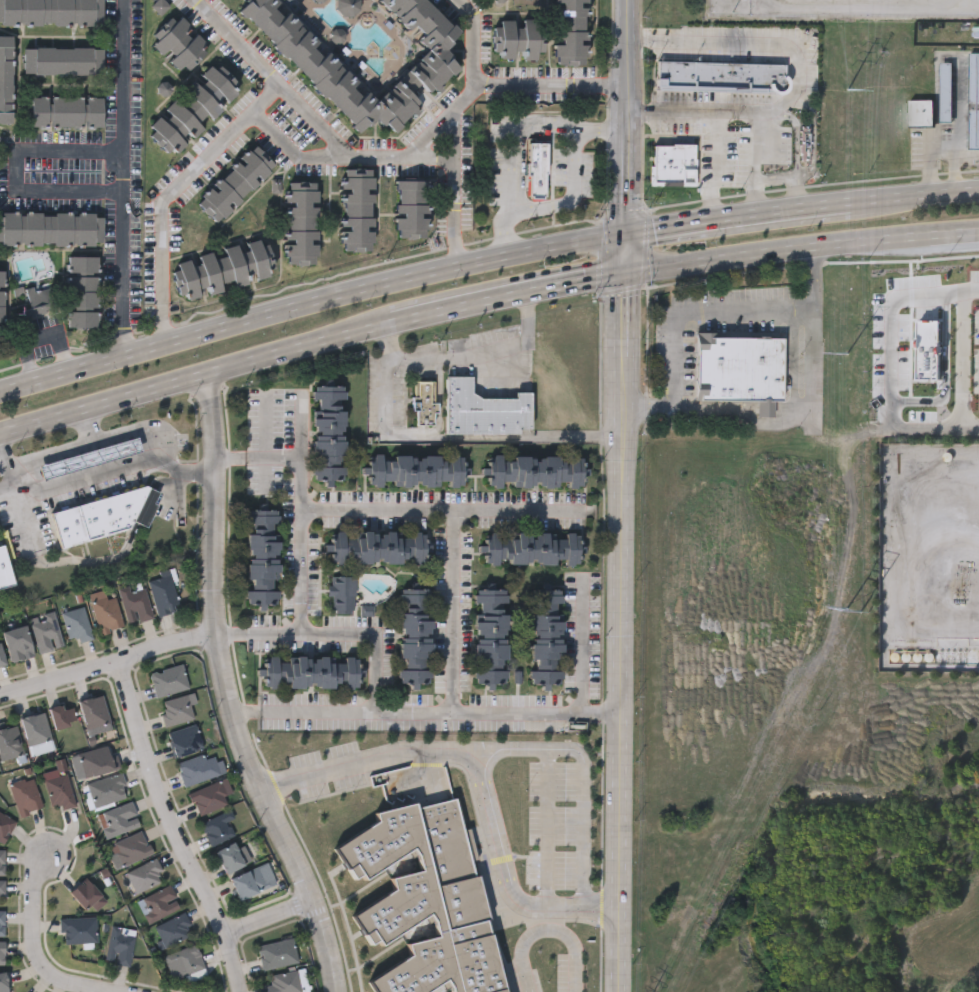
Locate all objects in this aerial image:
power substation: (847, 9)
building: (50, 12)
building: (569, 31)
building: (517, 38)
building: (179, 43)
building: (62, 60)
road: (801, 72)
building: (326, 75)
building: (720, 76)
building: (5, 78)
road: (550, 90)
power tower: (846, 91)
building: (946, 91)
building: (975, 99)
building: (190, 109)
building: (66, 111)
building: (922, 112)
road: (625, 116)
road: (315, 125)
road: (458, 126)
road: (812, 130)
road: (514, 134)
road: (796, 140)
building: (804, 142)
road: (292, 149)
road: (756, 163)
building: (672, 165)
road: (715, 166)
road: (17, 168)
building: (540, 176)
road: (120, 177)
building: (234, 182)
road: (173, 194)
road: (572, 197)
road: (797, 198)
road: (915, 199)
building: (356, 208)
building: (410, 208)
road: (737, 219)
building: (300, 221)
building: (50, 229)
traffic signals: (623, 234)
road: (622, 251)
road: (800, 252)
building: (221, 268)
traffic signals: (622, 268)
building: (82, 291)
road: (503, 295)
road: (888, 298)
building: (34, 300)
road: (308, 301)
building: (1, 307)
road: (695, 311)
road: (455, 331)
road: (483, 352)
power tower: (844, 354)
road: (969, 361)
building: (739, 369)
road: (192, 375)
building: (423, 402)
building: (483, 409)
road: (794, 419)
road: (131, 431)
building: (327, 434)
road: (450, 438)
road: (65, 449)
road: (283, 457)
gas station: (92, 458)
building: (91, 460)
road: (6, 462)
building: (414, 470)
building: (535, 471)
road: (102, 472)
road: (449, 506)
building: (104, 517)
building: (377, 548)
building: (532, 548)
building: (261, 557)
road: (285, 558)
road: (58, 561)
road: (301, 570)
building: (5, 571)
building: (162, 594)
building: (340, 594)
road: (433, 602)
building: (134, 603)
road: (456, 610)
power tower: (853, 610)
building: (105, 611)
building: (76, 625)
road: (621, 630)
road: (334, 631)
building: (45, 632)
building: (414, 636)
building: (488, 637)
building: (544, 638)
building: (18, 644)
building: (1, 657)
road: (106, 659)
building: (310, 672)
road: (575, 679)
building: (168, 681)
road: (355, 682)
road: (226, 691)
building: (177, 710)
building: (93, 712)
road: (426, 715)
building: (62, 716)
building: (34, 729)
building: (184, 741)
building: (9, 743)
building: (97, 762)
road: (483, 766)
building: (199, 768)
building: (57, 789)
building: (107, 790)
road: (549, 794)
building: (25, 796)
building: (209, 796)
road: (581, 813)
building: (118, 820)
road: (175, 824)
building: (5, 826)
building: (217, 828)
building: (131, 849)
road: (302, 855)
building: (229, 858)
road: (603, 859)
building: (2, 862)
building: (144, 876)
building: (250, 882)
building: (2, 888)
building: (425, 900)
building: (158, 904)
road: (267, 922)
building: (2, 923)
road: (547, 928)
building: (77, 930)
building: (172, 931)
road: (34, 939)
building: (119, 945)
building: (2, 953)
building: (276, 954)
building: (183, 962)
building: (285, 982)
building: (3, 983)

